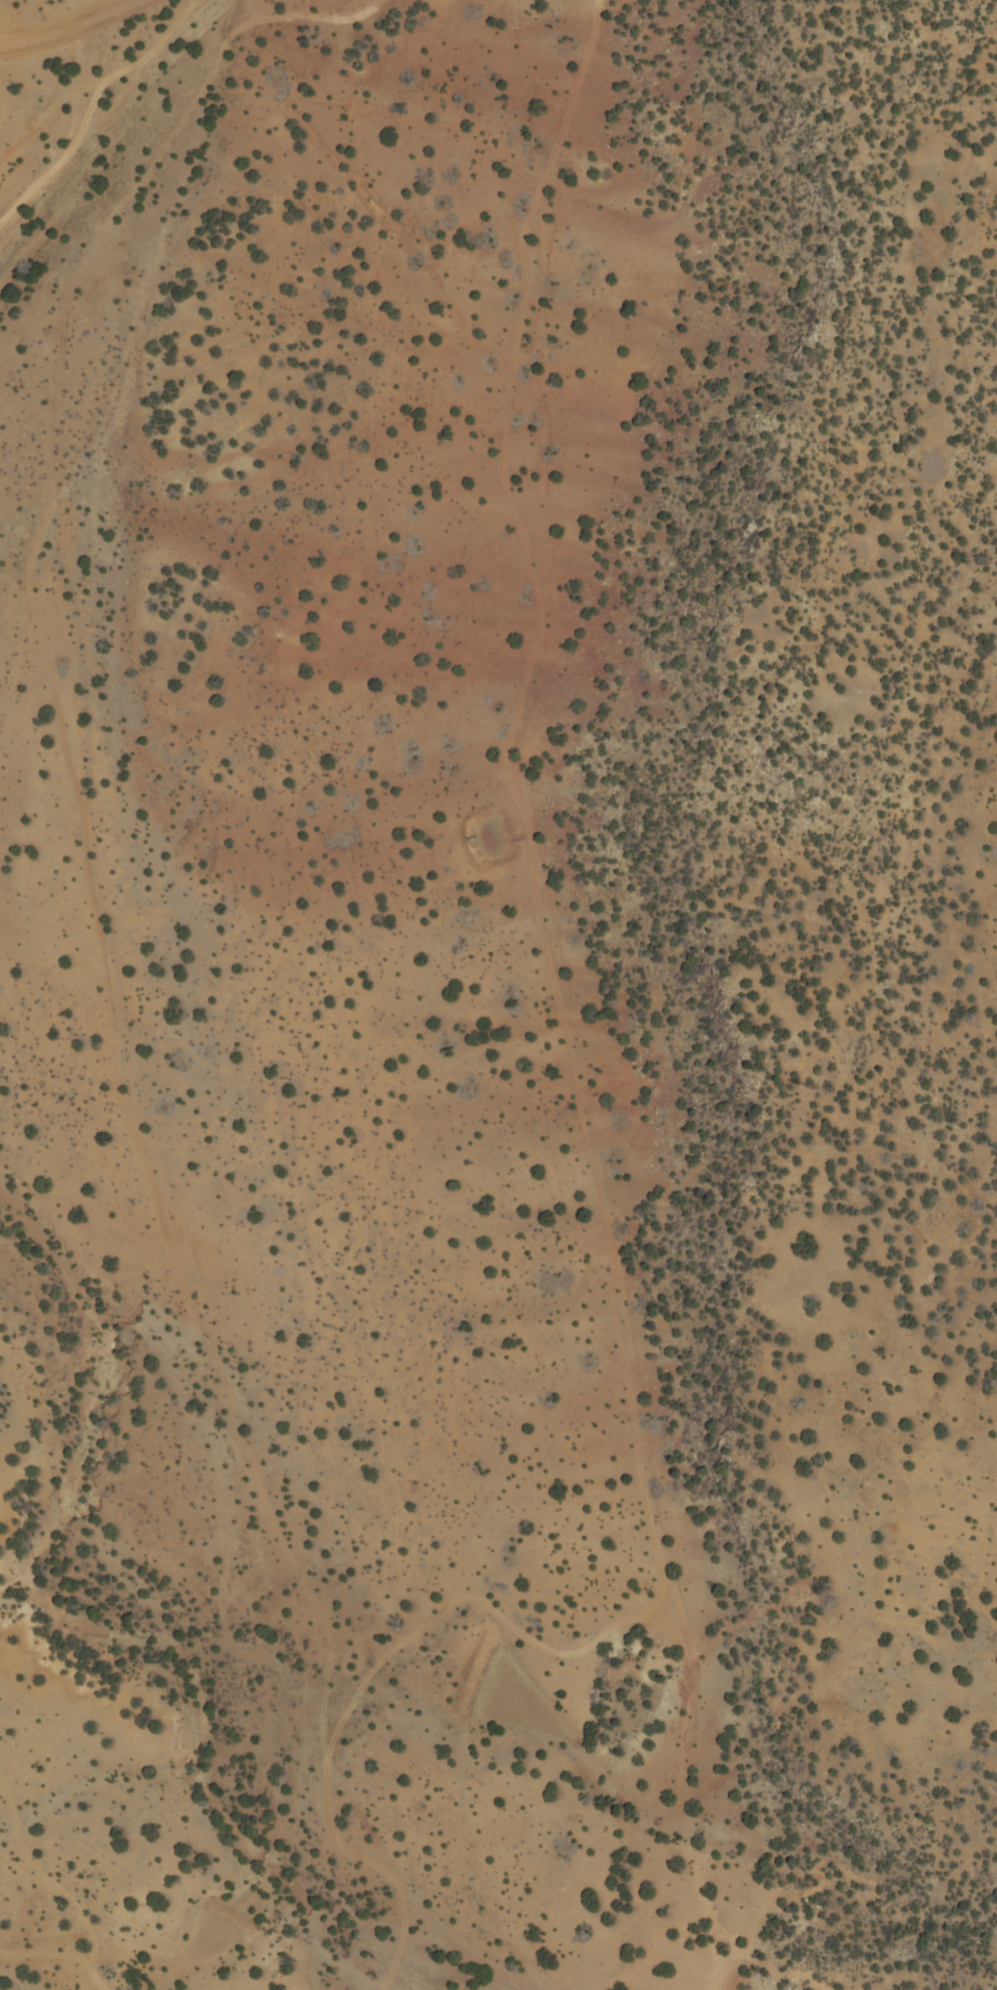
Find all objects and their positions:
road: (27, 21)
road: (108, 35)
road: (578, 996)

